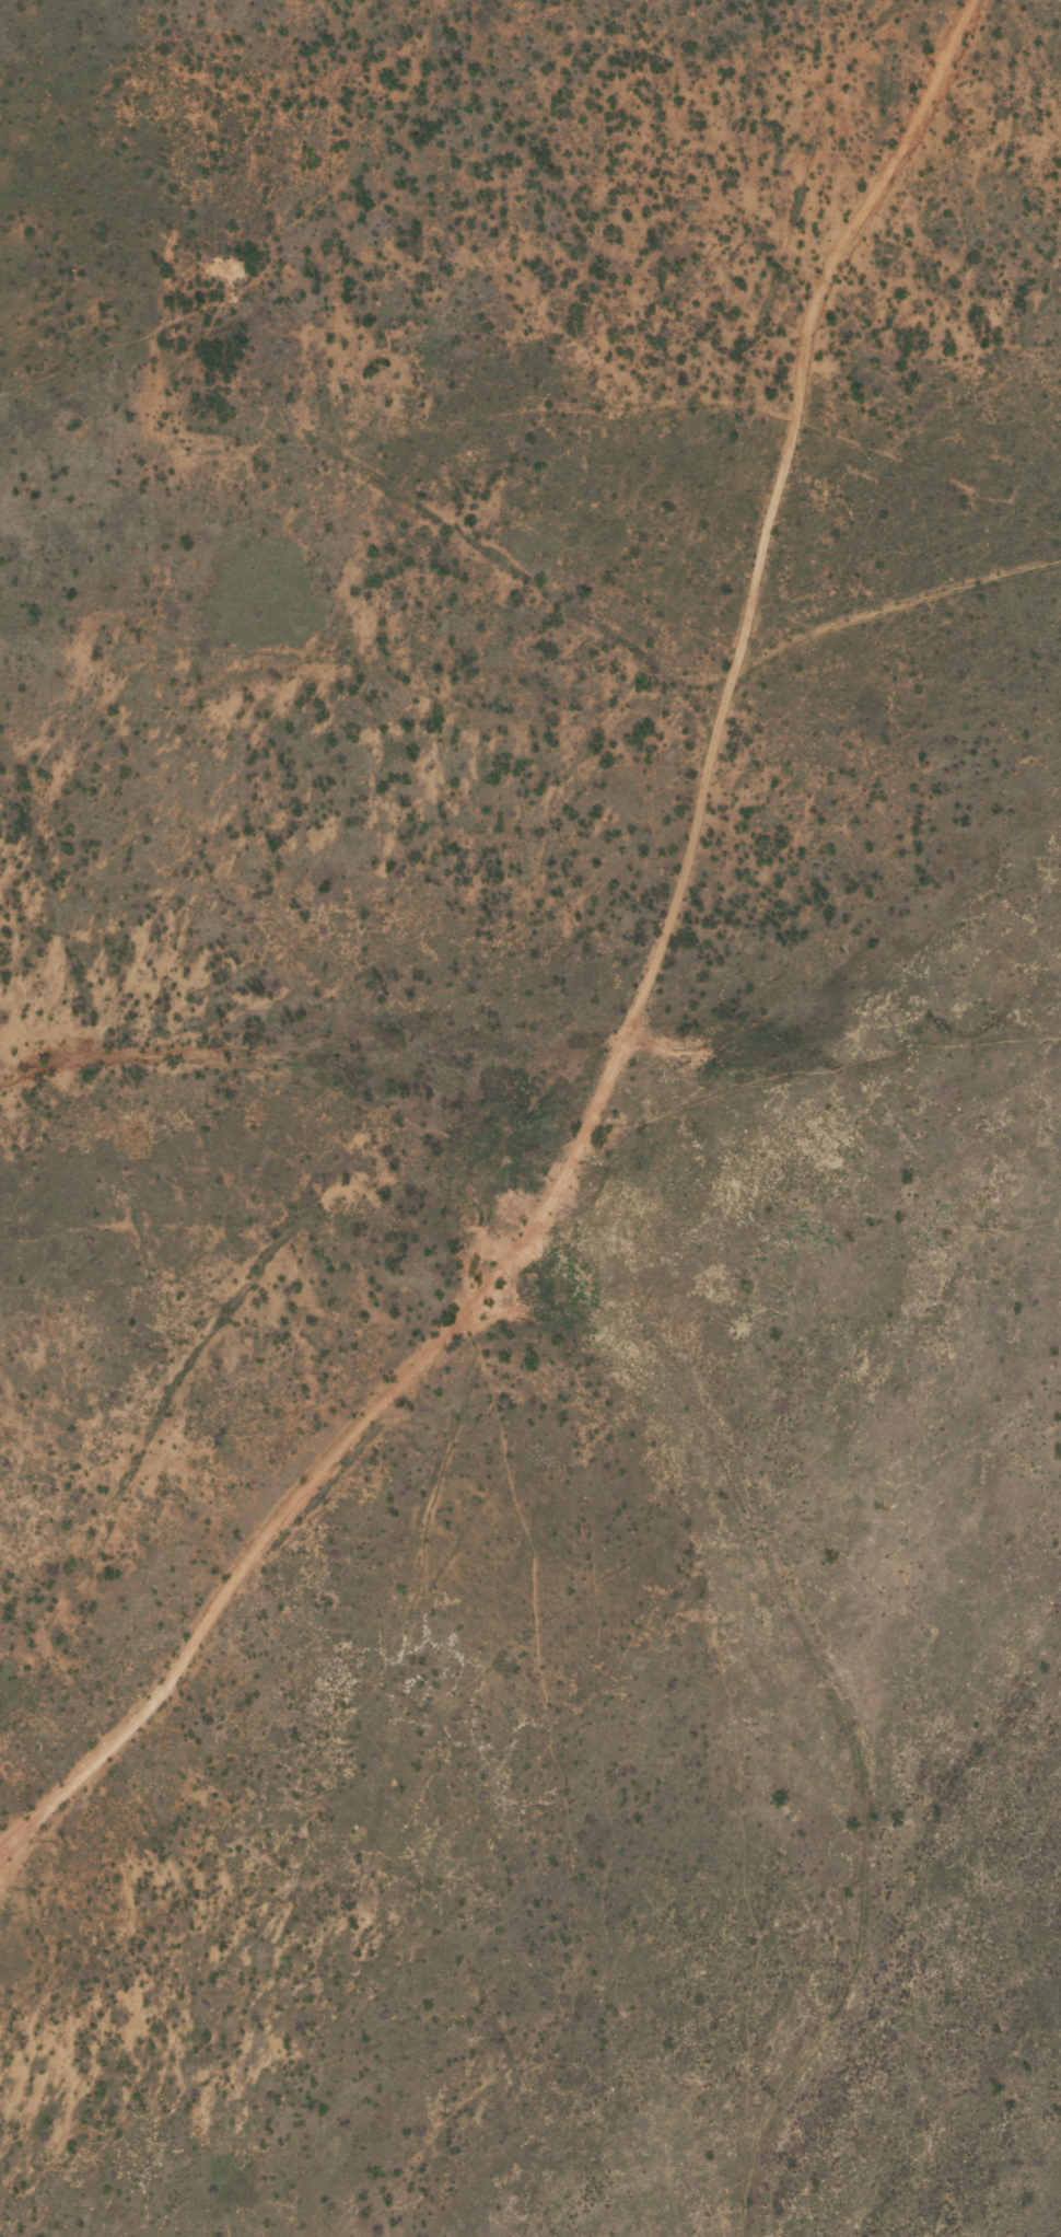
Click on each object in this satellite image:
road: (914, 596)
road: (654, 1035)

